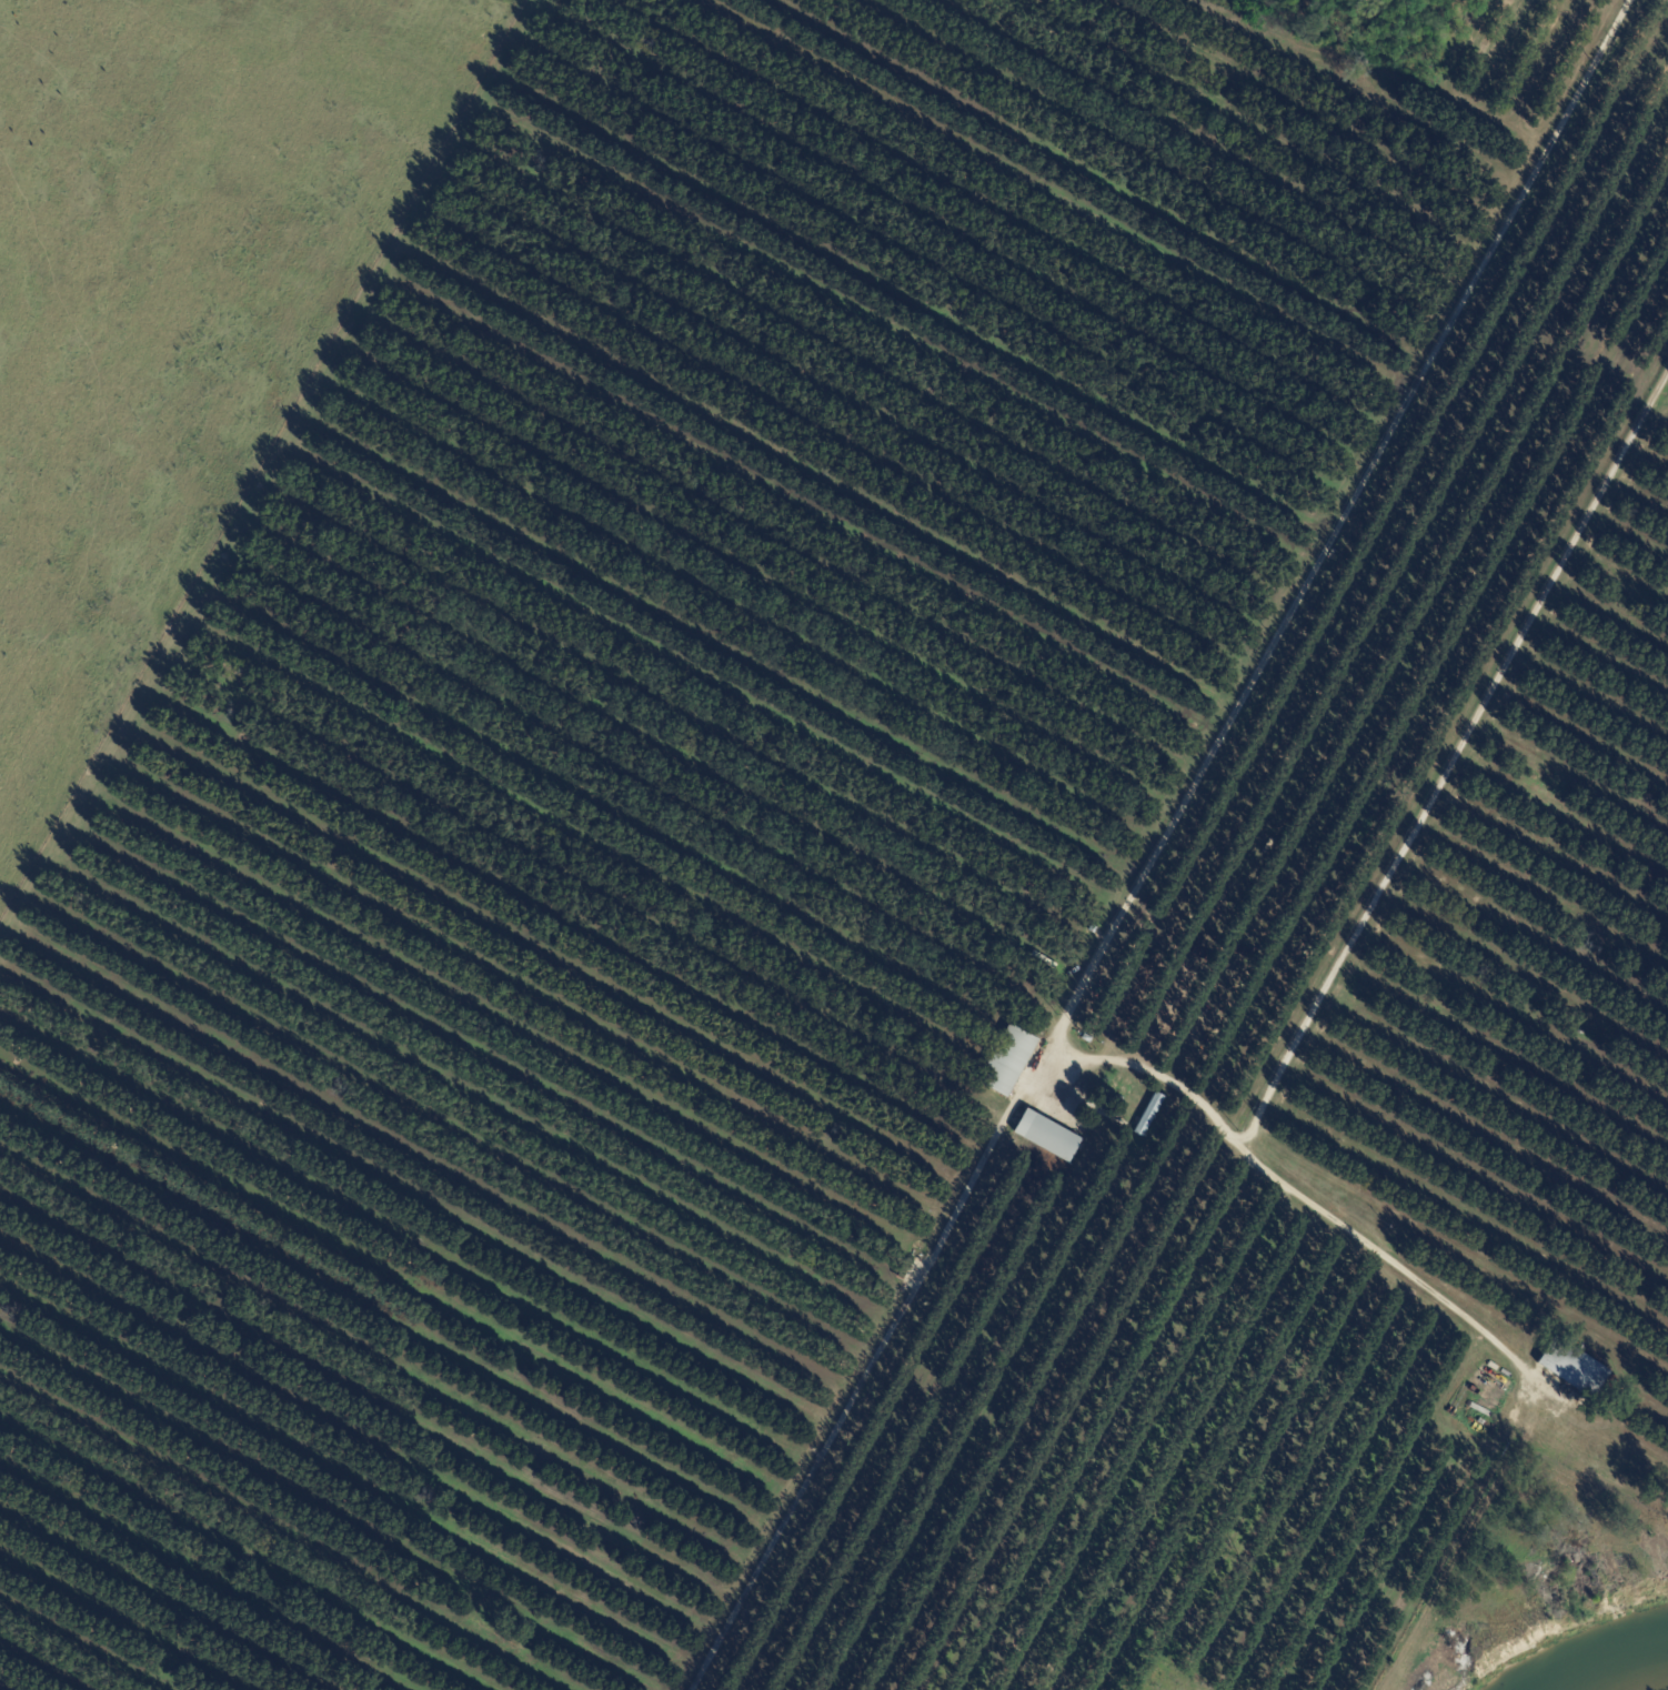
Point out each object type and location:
crop: (174, 309)
road: (1451, 761)
road: (1187, 788)
building: (1008, 1062)
building: (1149, 1116)
building: (1047, 1136)
building: (1572, 1367)
river: (1636, 1676)

